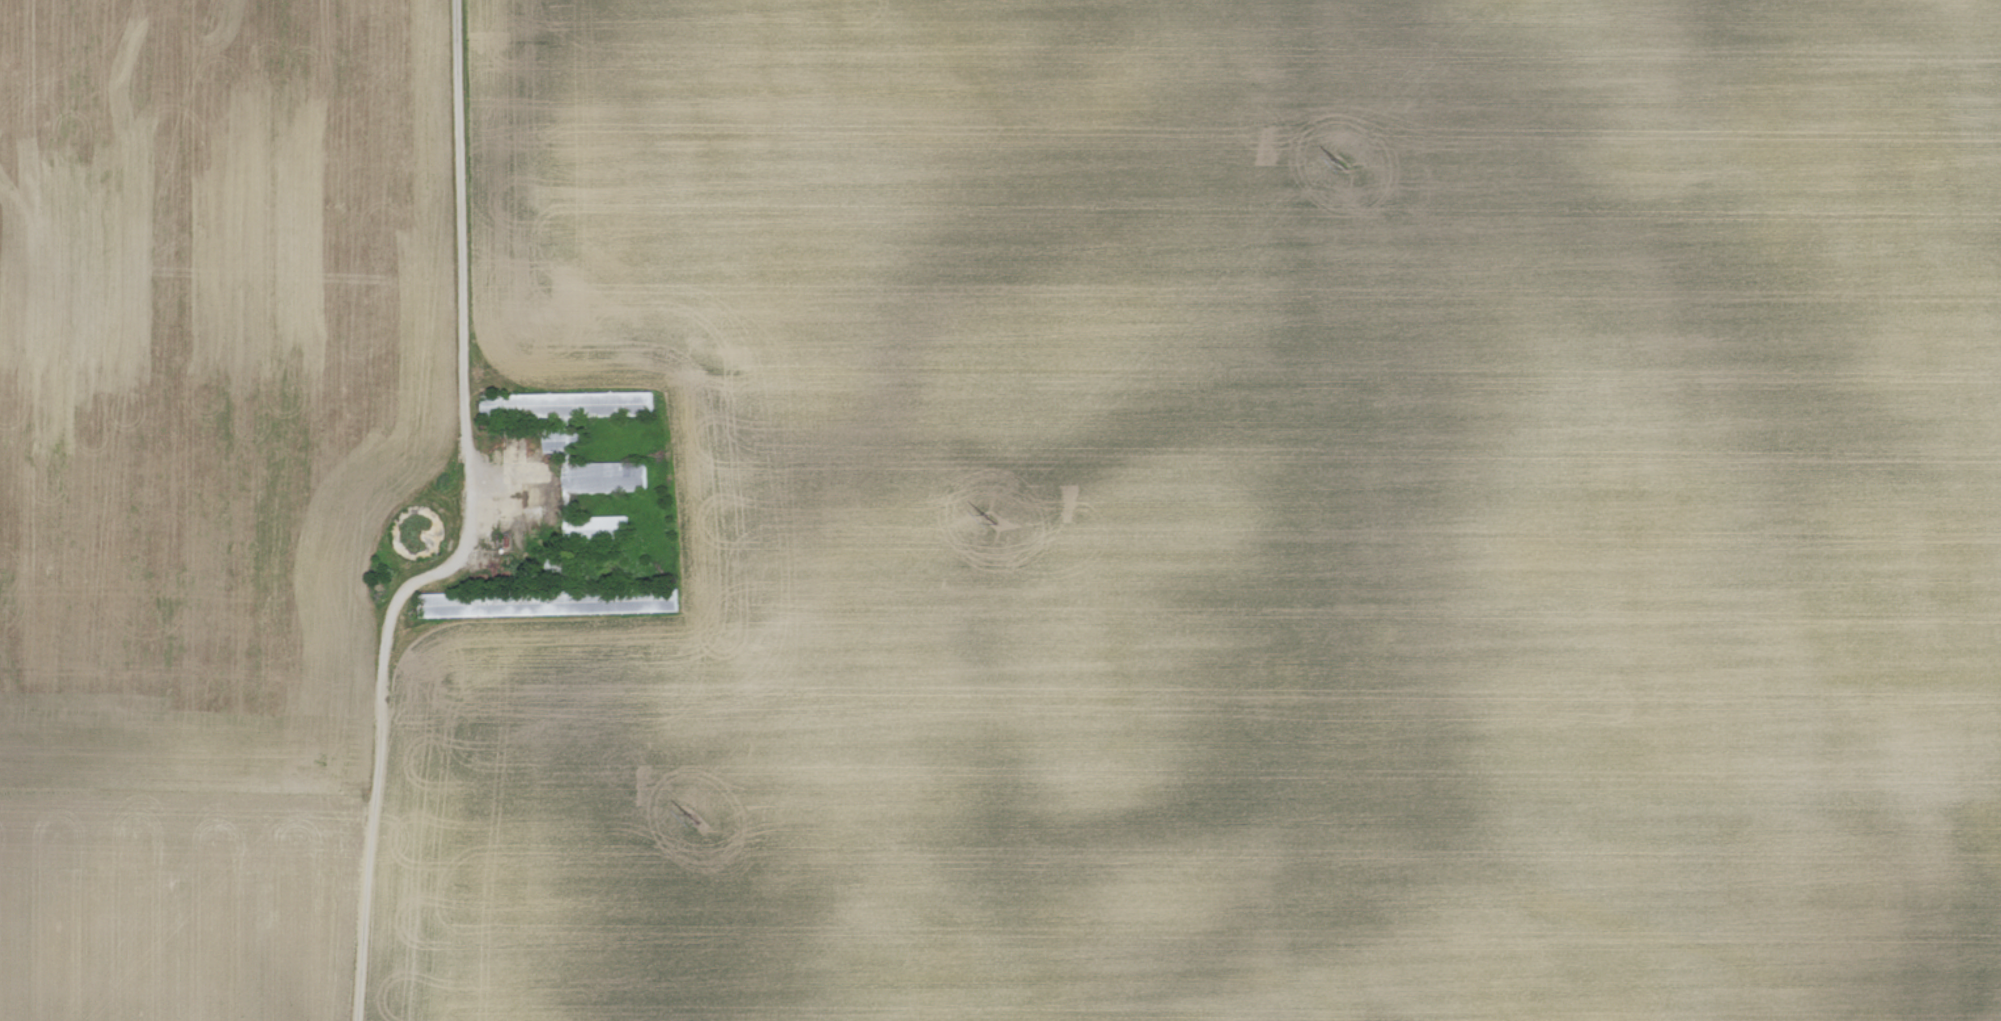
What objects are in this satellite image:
power tower: (1344, 163)
power tower: (993, 521)
road: (467, 530)
power tower: (696, 821)

